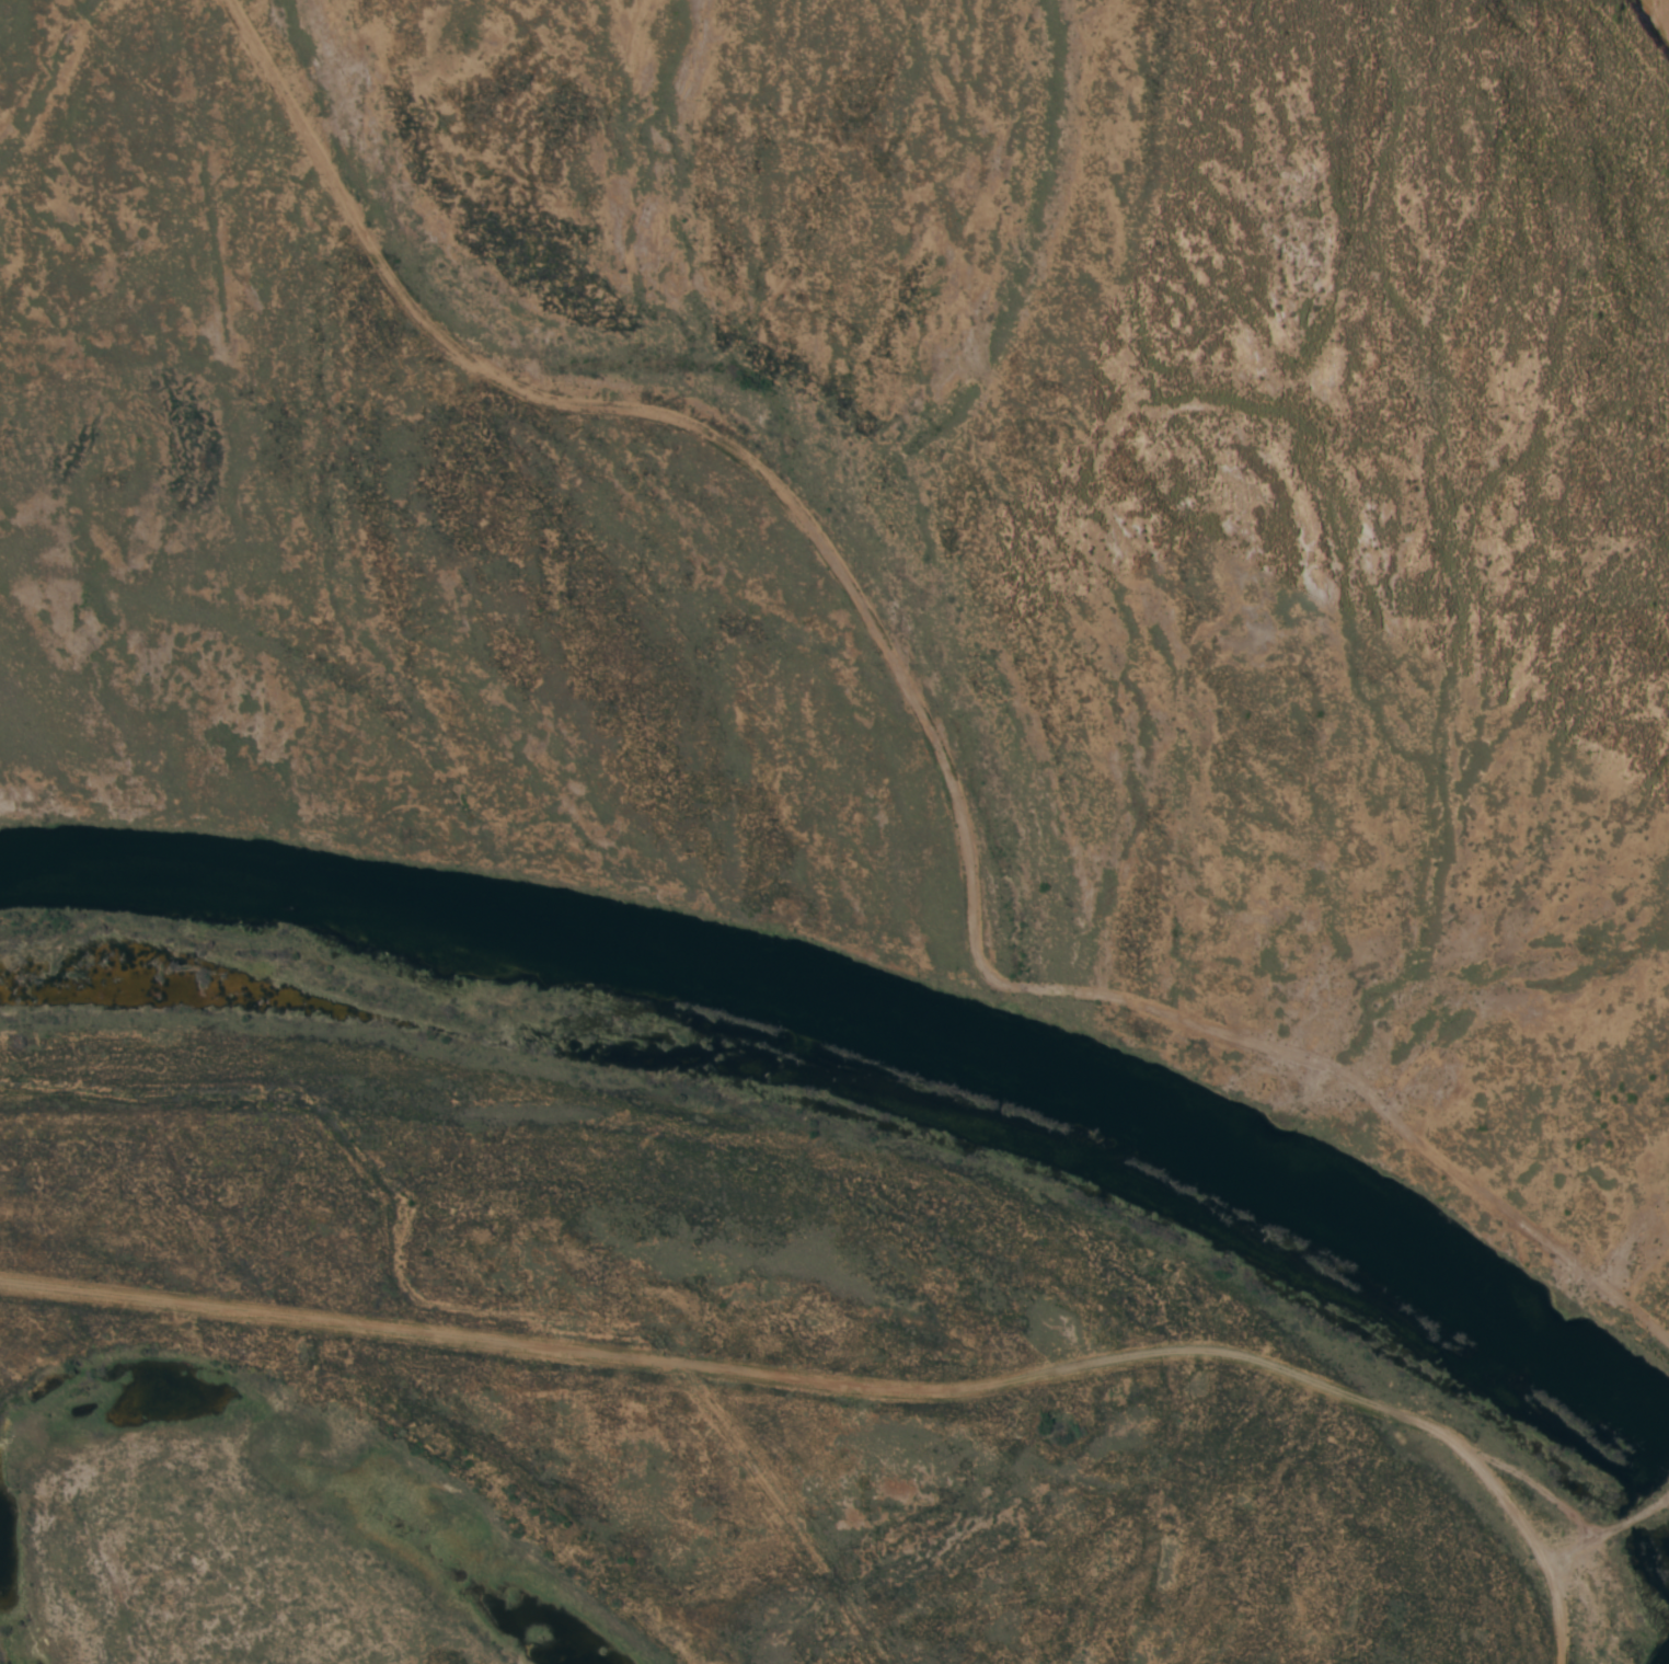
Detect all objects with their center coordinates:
river: (1667, 3)

